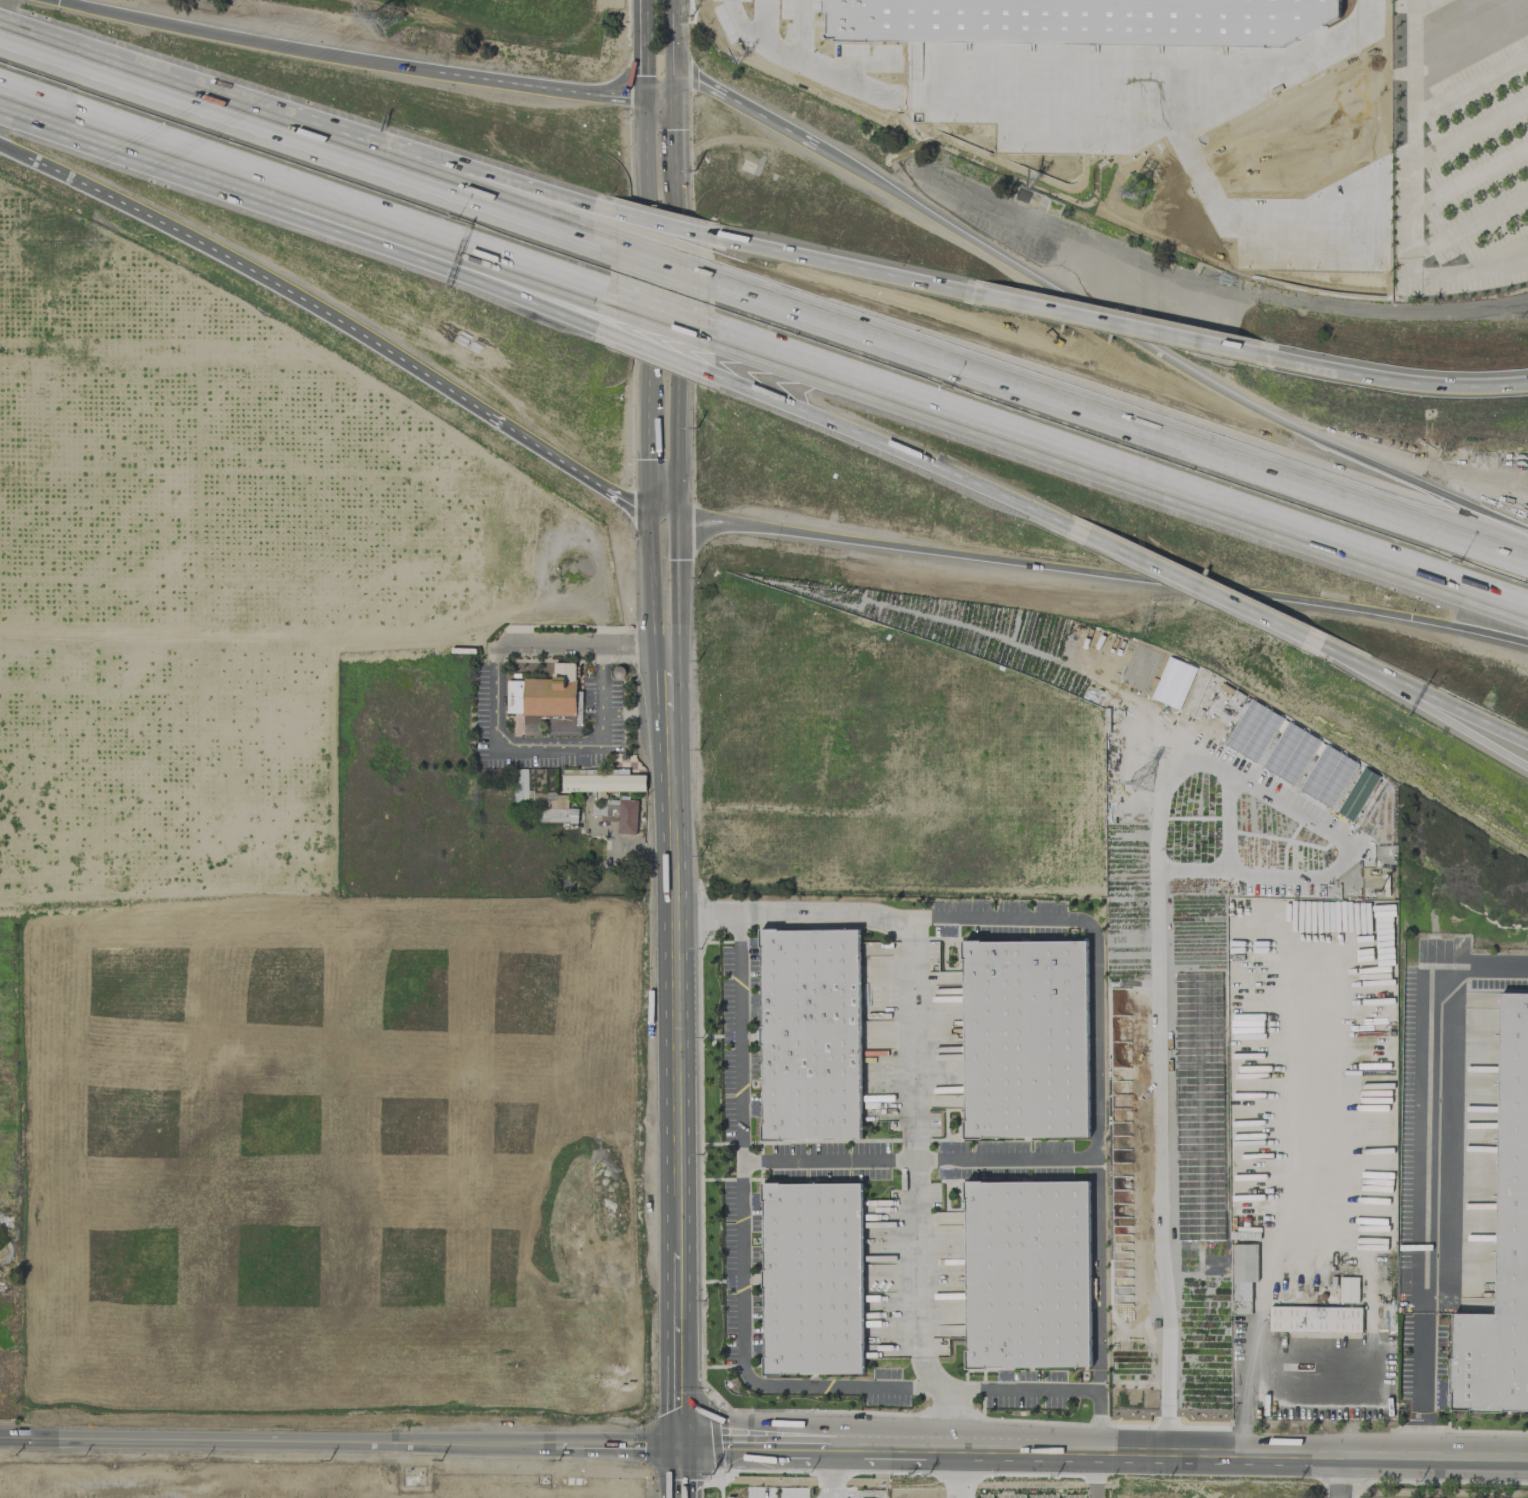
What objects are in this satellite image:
traffic signals: (58, 0)
road: (1422, 5)
road: (746, 21)
road: (768, 41)
road: (644, 47)
road: (670, 48)
road: (349, 56)
road: (1471, 84)
road: (1071, 92)
traffic signals: (643, 95)
road: (657, 96)
traffic signals: (671, 97)
road: (742, 106)
road: (1471, 129)
road: (671, 136)
road: (306, 138)
parking lot: (1460, 144)
road: (177, 154)
road: (1471, 175)
road: (483, 182)
power tower: (1138, 195)
road: (1414, 195)
road: (663, 222)
road: (1471, 223)
road: (1499, 256)
road: (483, 259)
road: (663, 260)
road: (851, 266)
road: (250, 268)
road: (483, 273)
road: (646, 301)
road: (658, 320)
road: (1126, 326)
road: (1165, 349)
road: (661, 354)
road: (1397, 376)
road: (674, 377)
road: (1119, 420)
road: (566, 467)
road: (925, 468)
road: (1116, 474)
traffic signals: (650, 508)
road: (663, 510)
traffic signals: (676, 512)
road: (651, 544)
road: (1102, 573)
road: (1224, 598)
road: (666, 613)
road: (582, 645)
road: (1342, 658)
road: (669, 679)
building: (543, 693)
road: (1452, 709)
road: (1452, 722)
road: (546, 742)
power tower: (1142, 779)
building: (601, 780)
building: (558, 801)
building: (604, 808)
building: (627, 816)
road: (1159, 899)
road: (1310, 943)
road: (1092, 976)
road: (674, 980)
building: (800, 1030)
building: (1025, 1038)
road: (918, 1156)
road: (1422, 1173)
building: (1503, 1243)
building: (1243, 1269)
building: (1027, 1273)
building: (812, 1278)
road: (914, 1280)
building: (1315, 1318)
road: (741, 1323)
road: (676, 1348)
road: (1308, 1391)
road: (953, 1417)
road: (276, 1441)
road: (615, 1445)
road: (1102, 1445)
traffic signals: (677, 1446)
road: (1095, 1471)
road: (677, 1472)
road: (827, 1472)
road: (952, 1472)
road: (1336, 1476)

